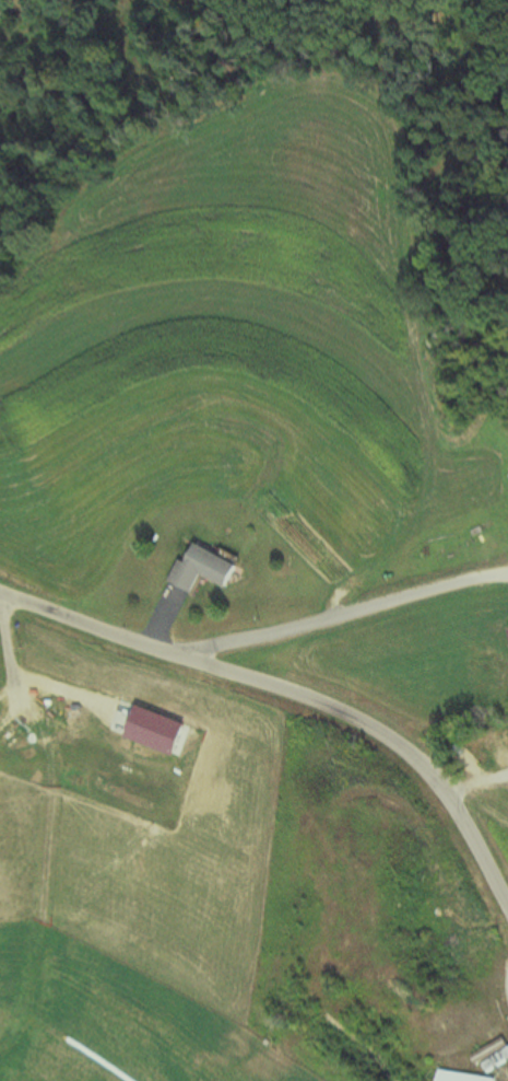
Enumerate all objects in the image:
road: (347, 625)
road: (294, 705)
road: (504, 976)

